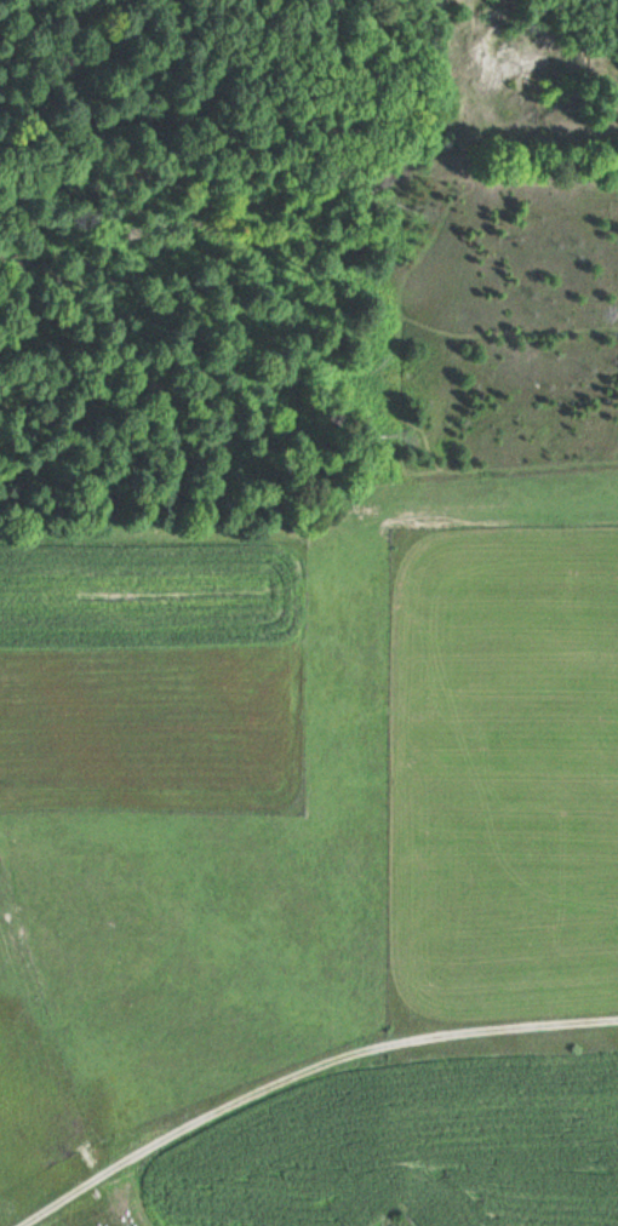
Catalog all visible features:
road: (304, 1076)

